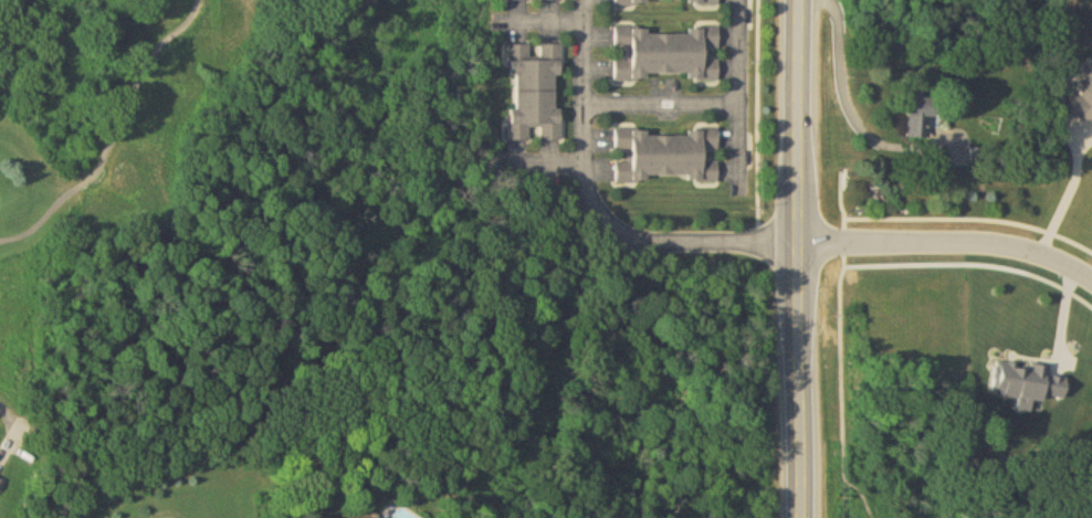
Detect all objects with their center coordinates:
building: (552, 0)
building: (661, 1)
road: (542, 20)
building: (669, 54)
building: (536, 92)
road: (741, 96)
road: (663, 102)
building: (920, 118)
park: (125, 121)
building: (666, 156)
road: (550, 165)
road: (1069, 191)
road: (600, 209)
road: (948, 241)
road: (799, 258)
building: (0, 477)

